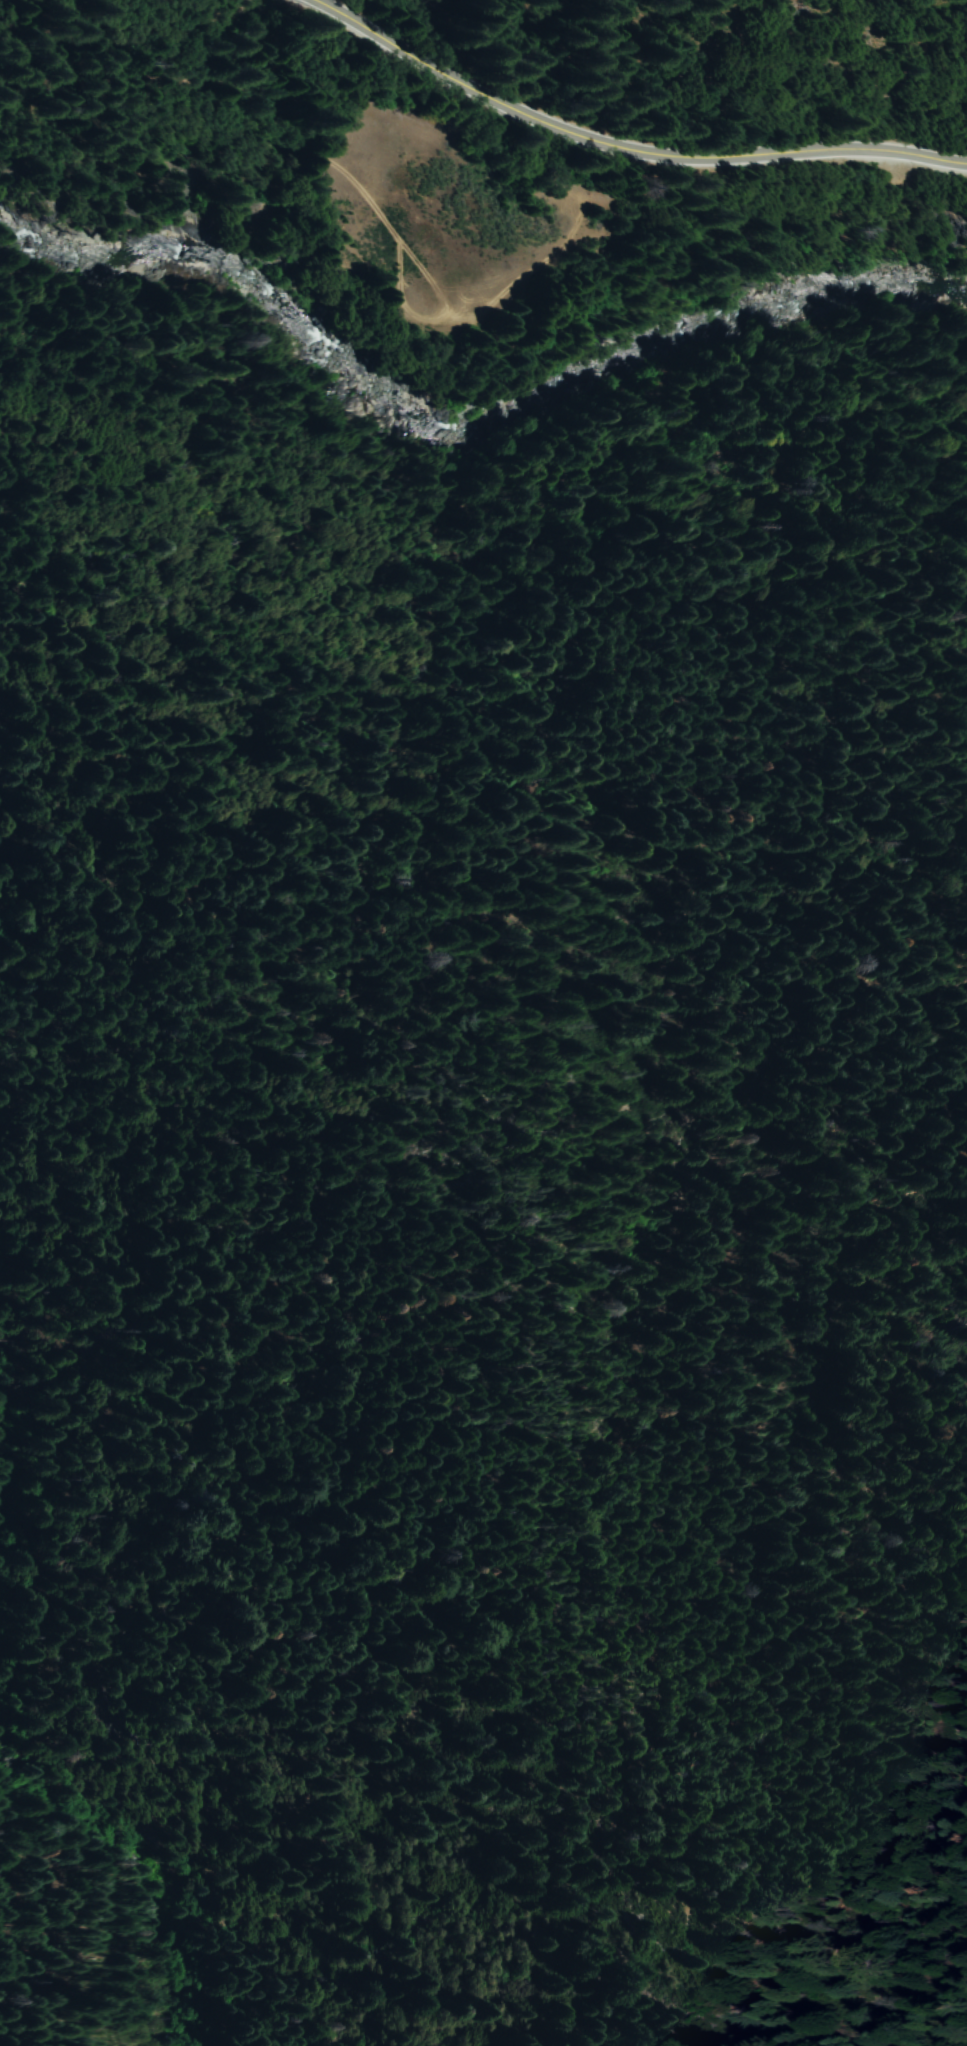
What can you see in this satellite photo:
road: (624, 144)
road: (346, 165)
river: (459, 426)

